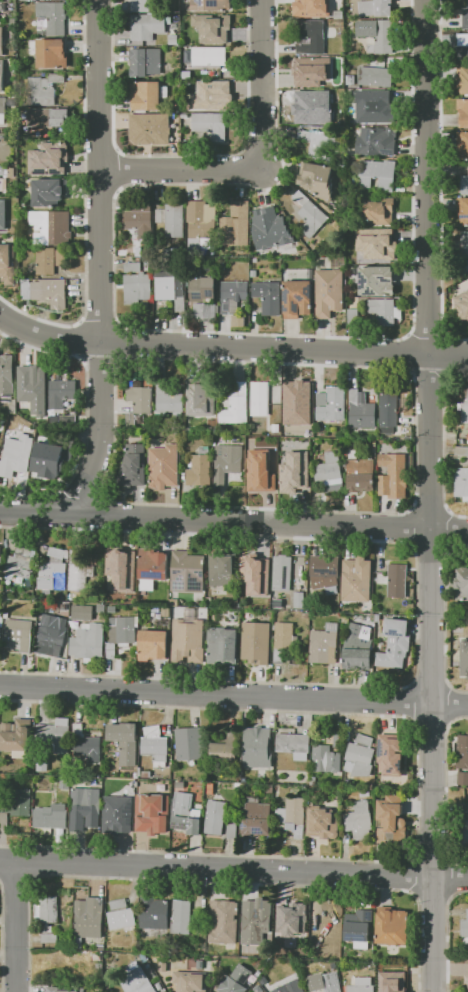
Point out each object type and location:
building: (211, 4)
building: (140, 5)
building: (373, 7)
building: (311, 8)
building: (341, 13)
building: (56, 14)
building: (467, 19)
building: (402, 26)
building: (151, 27)
building: (215, 28)
building: (312, 38)
building: (383, 38)
building: (175, 40)
building: (2, 41)
building: (465, 41)
building: (52, 54)
building: (212, 57)
building: (147, 62)
building: (319, 71)
building: (2, 75)
building: (378, 77)
building: (464, 80)
building: (47, 85)
building: (209, 95)
building: (148, 96)
building: (292, 96)
building: (340, 100)
building: (14, 101)
building: (380, 106)
building: (311, 107)
building: (3, 110)
building: (464, 114)
building: (49, 118)
building: (152, 126)
building: (213, 126)
building: (178, 136)
building: (6, 137)
building: (379, 143)
building: (321, 144)
building: (464, 145)
building: (46, 155)
road: (265, 167)
building: (380, 175)
building: (322, 178)
building: (2, 184)
building: (466, 186)
building: (51, 192)
building: (464, 210)
building: (381, 212)
building: (3, 214)
building: (314, 215)
building: (143, 220)
building: (175, 220)
building: (204, 223)
building: (54, 225)
building: (238, 226)
building: (274, 231)
building: (465, 245)
building: (375, 246)
building: (136, 250)
building: (52, 261)
road: (101, 262)
building: (9, 264)
road: (425, 264)
building: (465, 269)
building: (380, 281)
building: (139, 285)
building: (174, 288)
building: (29, 292)
building: (55, 293)
building: (332, 294)
building: (235, 297)
building: (206, 298)
building: (271, 298)
building: (300, 300)
building: (461, 305)
building: (386, 312)
building: (357, 318)
building: (240, 322)
road: (231, 349)
building: (9, 376)
building: (38, 390)
building: (65, 393)
building: (203, 398)
building: (264, 399)
building: (171, 401)
building: (140, 403)
building: (299, 405)
building: (465, 405)
building: (335, 406)
building: (238, 407)
building: (363, 412)
building: (391, 414)
road: (85, 415)
building: (66, 420)
building: (278, 429)
building: (463, 451)
building: (18, 457)
building: (55, 459)
building: (231, 464)
building: (135, 466)
building: (163, 466)
building: (270, 466)
building: (203, 469)
building: (298, 470)
building: (260, 471)
building: (363, 474)
building: (333, 475)
building: (396, 477)
building: (462, 484)
road: (234, 521)
building: (22, 565)
building: (156, 565)
building: (226, 570)
building: (56, 571)
building: (326, 572)
building: (81, 573)
building: (189, 573)
building: (1, 574)
building: (124, 574)
building: (285, 574)
building: (259, 577)
building: (359, 580)
building: (398, 581)
building: (463, 585)
building: (302, 601)
building: (280, 604)
building: (104, 609)
building: (85, 613)
building: (1, 625)
building: (23, 634)
building: (56, 635)
building: (124, 635)
building: (287, 641)
building: (190, 642)
building: (91, 644)
building: (259, 644)
building: (327, 645)
building: (398, 645)
building: (156, 646)
building: (225, 647)
building: (360, 649)
building: (465, 659)
road: (234, 691)
building: (18, 736)
building: (59, 736)
building: (340, 740)
building: (127, 742)
building: (192, 744)
building: (90, 745)
building: (298, 746)
building: (158, 747)
building: (228, 749)
building: (261, 749)
building: (464, 753)
building: (396, 754)
building: (364, 758)
building: (328, 760)
road: (432, 760)
building: (45, 765)
building: (464, 779)
building: (66, 785)
building: (367, 794)
building: (24, 803)
building: (466, 808)
building: (87, 809)
building: (189, 814)
building: (120, 816)
building: (155, 816)
building: (54, 817)
building: (295, 817)
building: (259, 819)
building: (325, 819)
building: (394, 820)
building: (6, 821)
building: (362, 821)
building: (217, 822)
building: (234, 831)
building: (466, 837)
road: (234, 869)
building: (121, 904)
building: (158, 914)
building: (297, 917)
building: (184, 918)
building: (51, 919)
building: (126, 919)
building: (90, 920)
building: (226, 922)
building: (258, 922)
road: (14, 926)
building: (394, 927)
building: (361, 928)
building: (329, 929)
building: (465, 931)
building: (98, 957)
building: (203, 965)
building: (166, 967)
building: (400, 971)
building: (138, 980)
building: (239, 980)
building: (193, 982)
building: (466, 982)
building: (333, 983)
building: (365, 985)
building: (297, 986)
building: (66, 989)
building: (404, 991)

